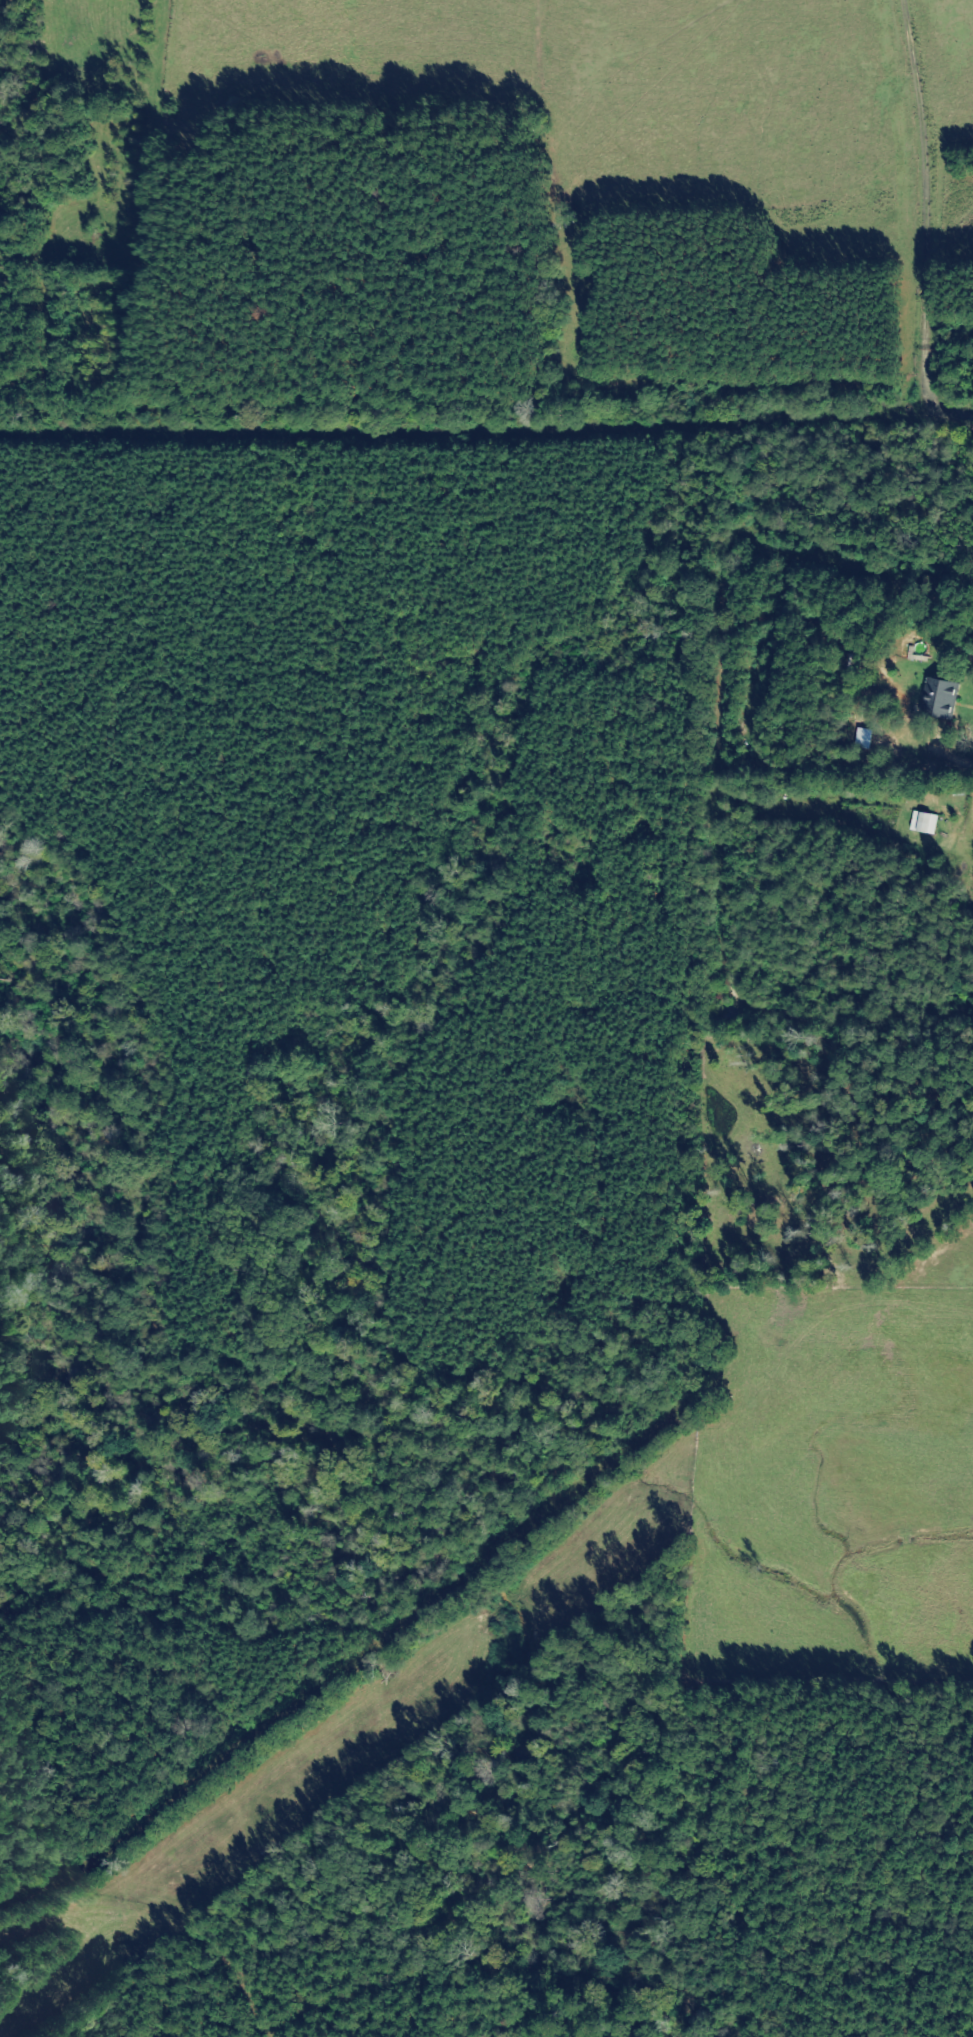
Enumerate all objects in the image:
building: (941, 695)
building: (921, 821)

